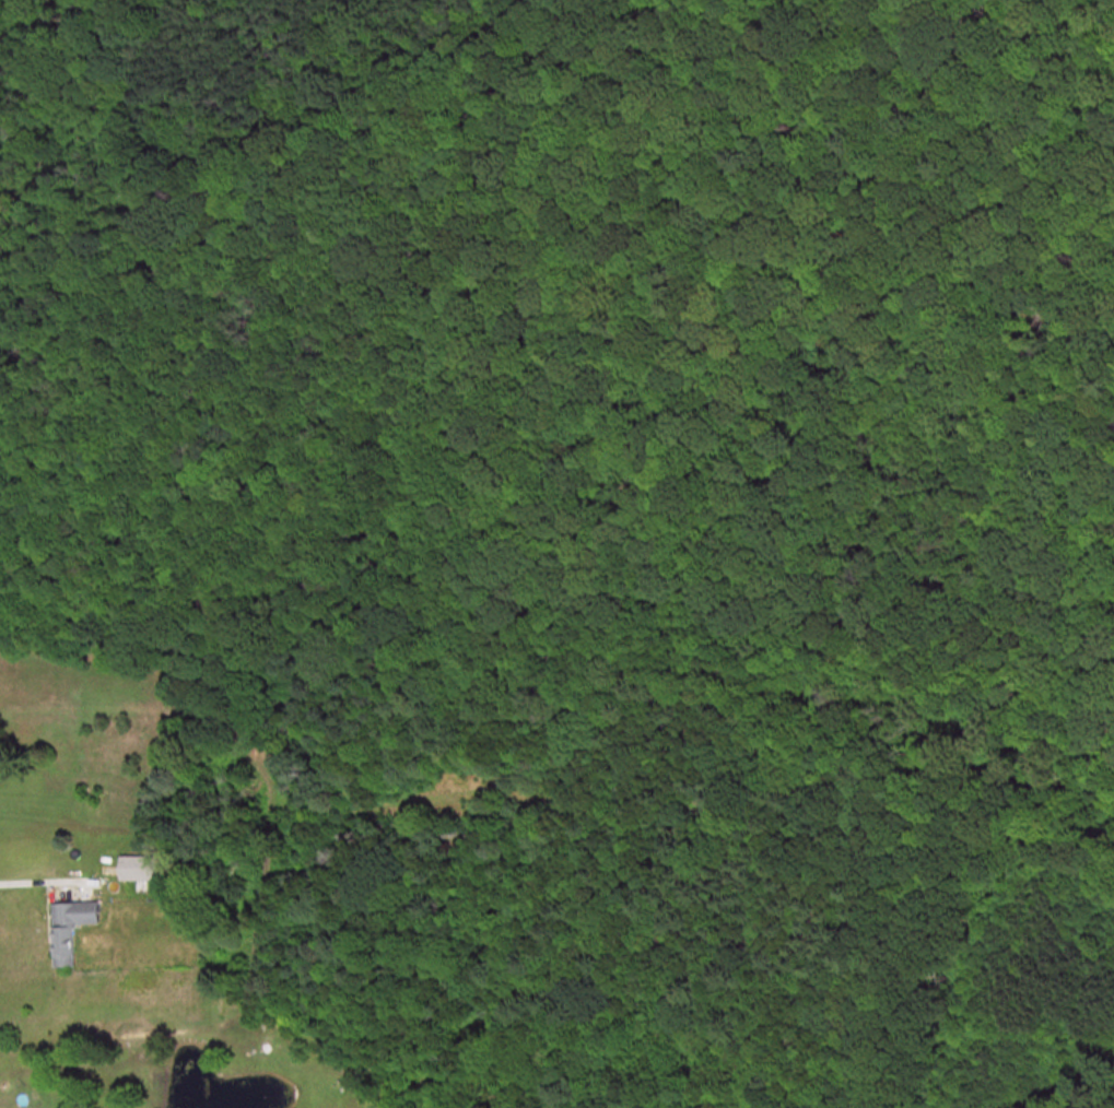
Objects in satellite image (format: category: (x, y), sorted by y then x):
park: (614, 386)
building: (139, 867)
road: (23, 874)
building: (70, 928)
building: (174, 1099)

